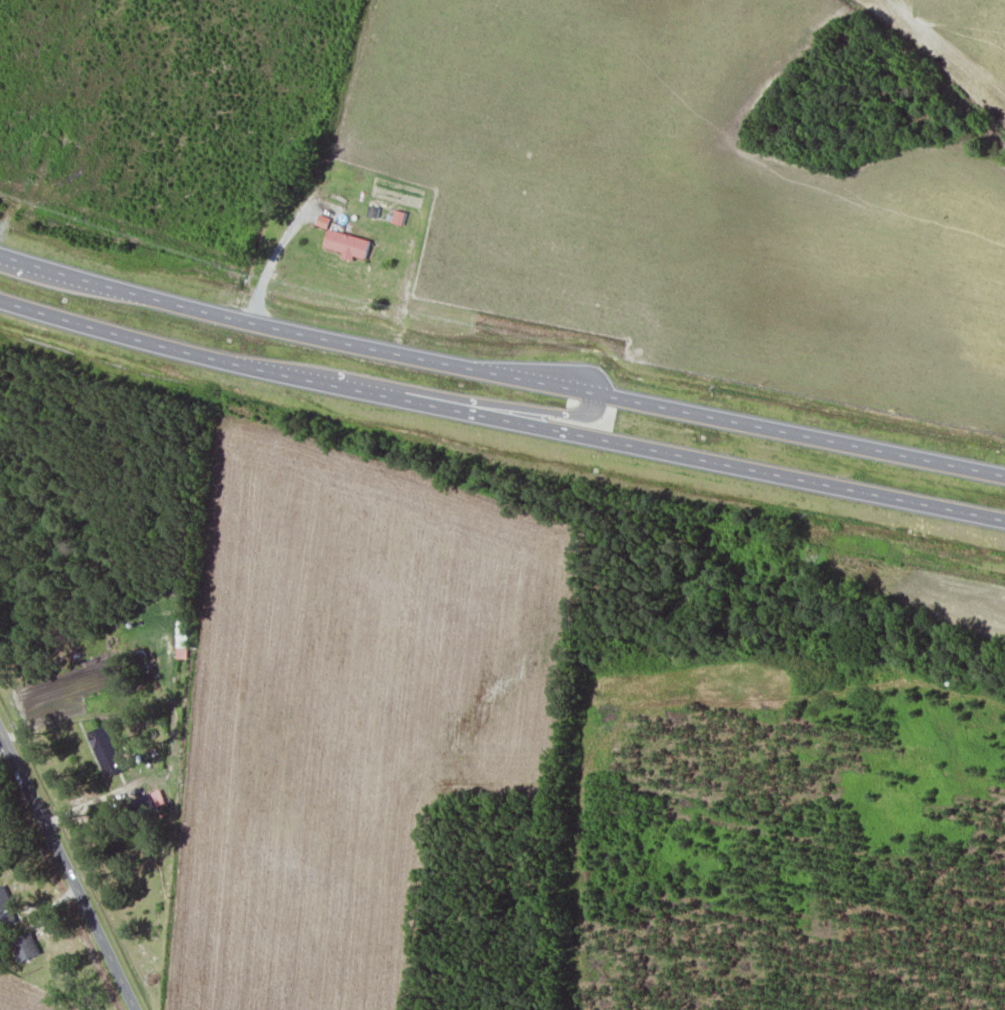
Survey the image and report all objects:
building: (348, 245)
road: (500, 373)
road: (500, 418)
building: (146, 657)
building: (107, 752)
road: (71, 870)
building: (5, 901)
building: (25, 948)

